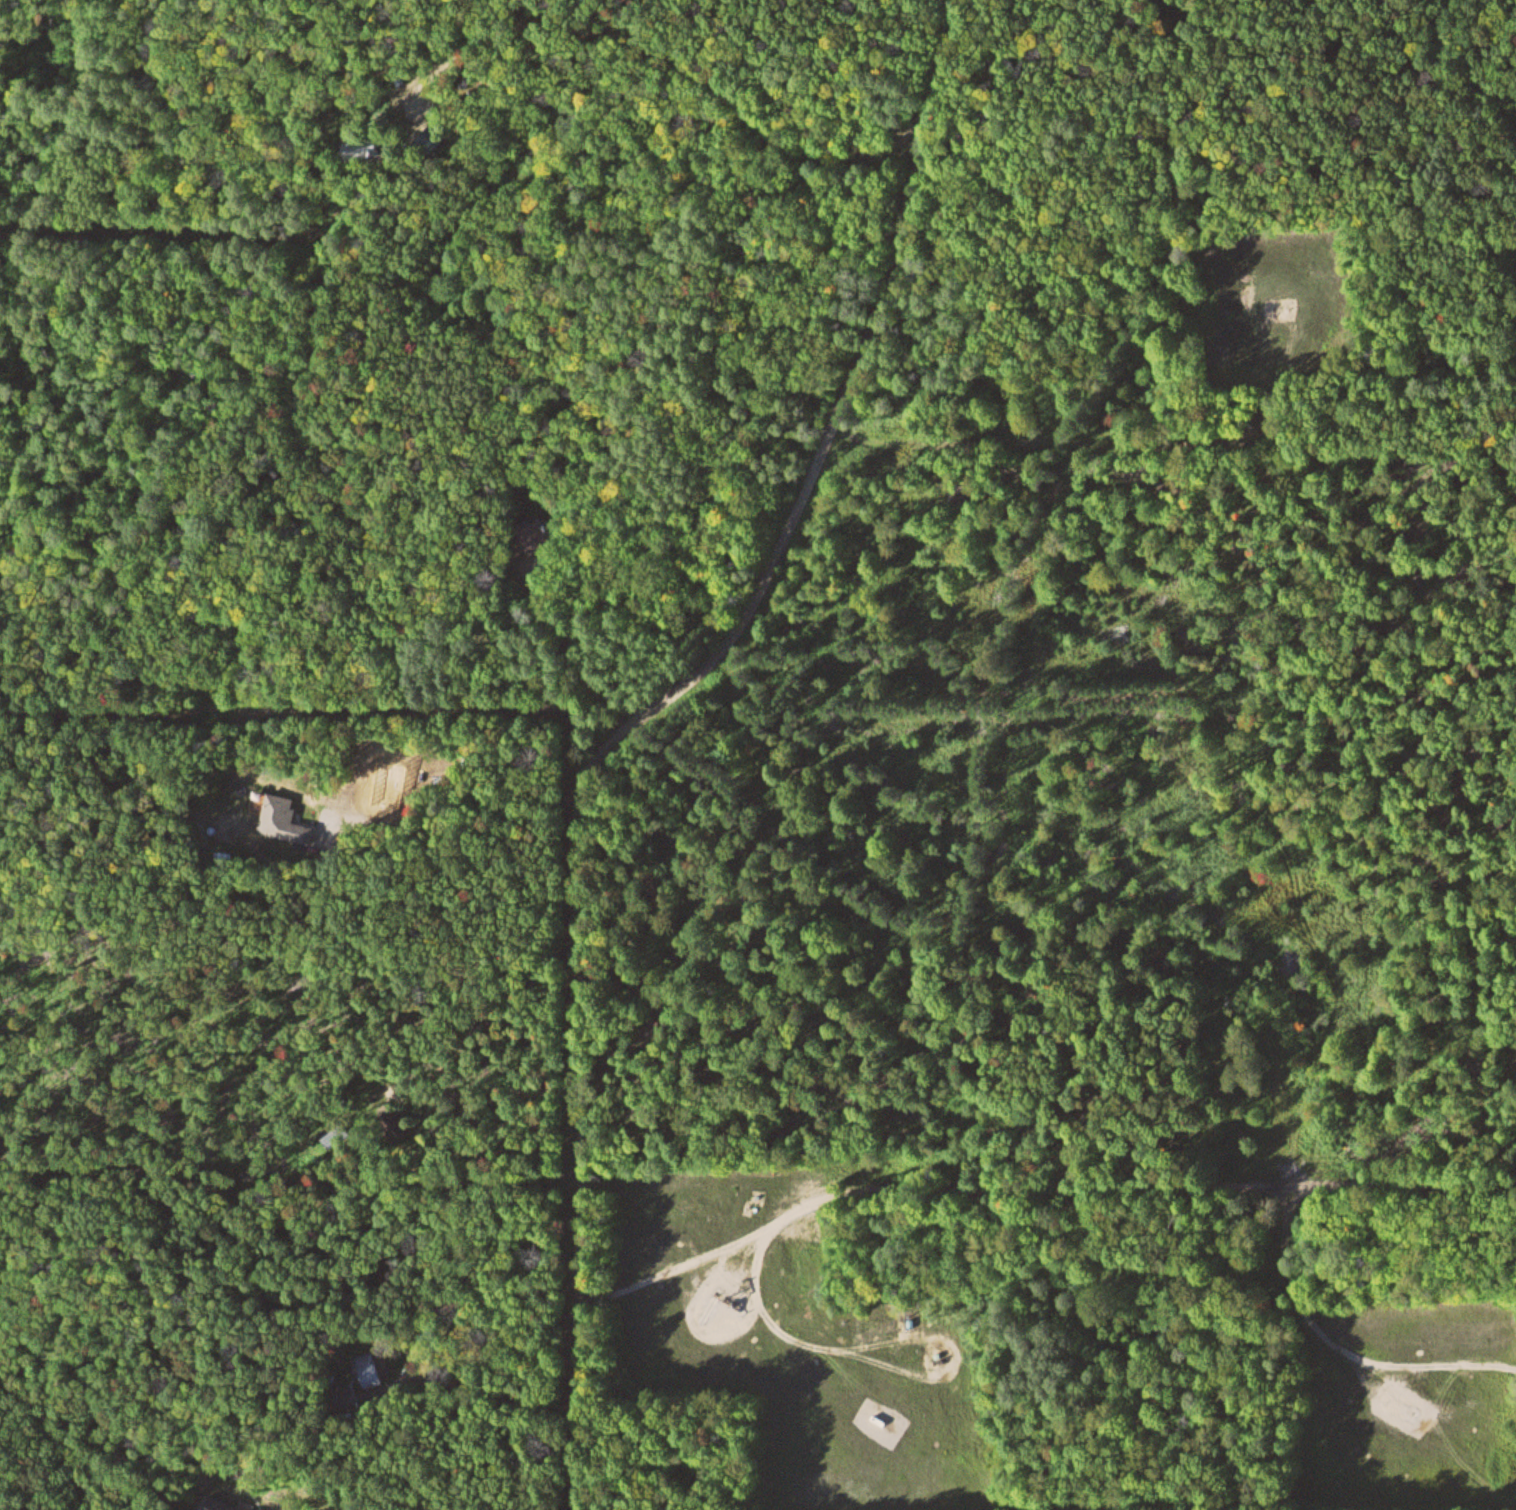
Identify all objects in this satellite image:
road: (669, 49)
building: (370, 149)
road: (1035, 167)
road: (880, 320)
road: (658, 559)
road: (540, 753)
building: (287, 819)
road: (503, 894)
road: (1194, 955)
road: (572, 1033)
road: (487, 1179)
road: (1020, 1183)
petroleum well: (730, 1303)
building: (383, 1369)
petroleum well: (1396, 1406)
road: (64, 1426)
building: (222, 1505)

